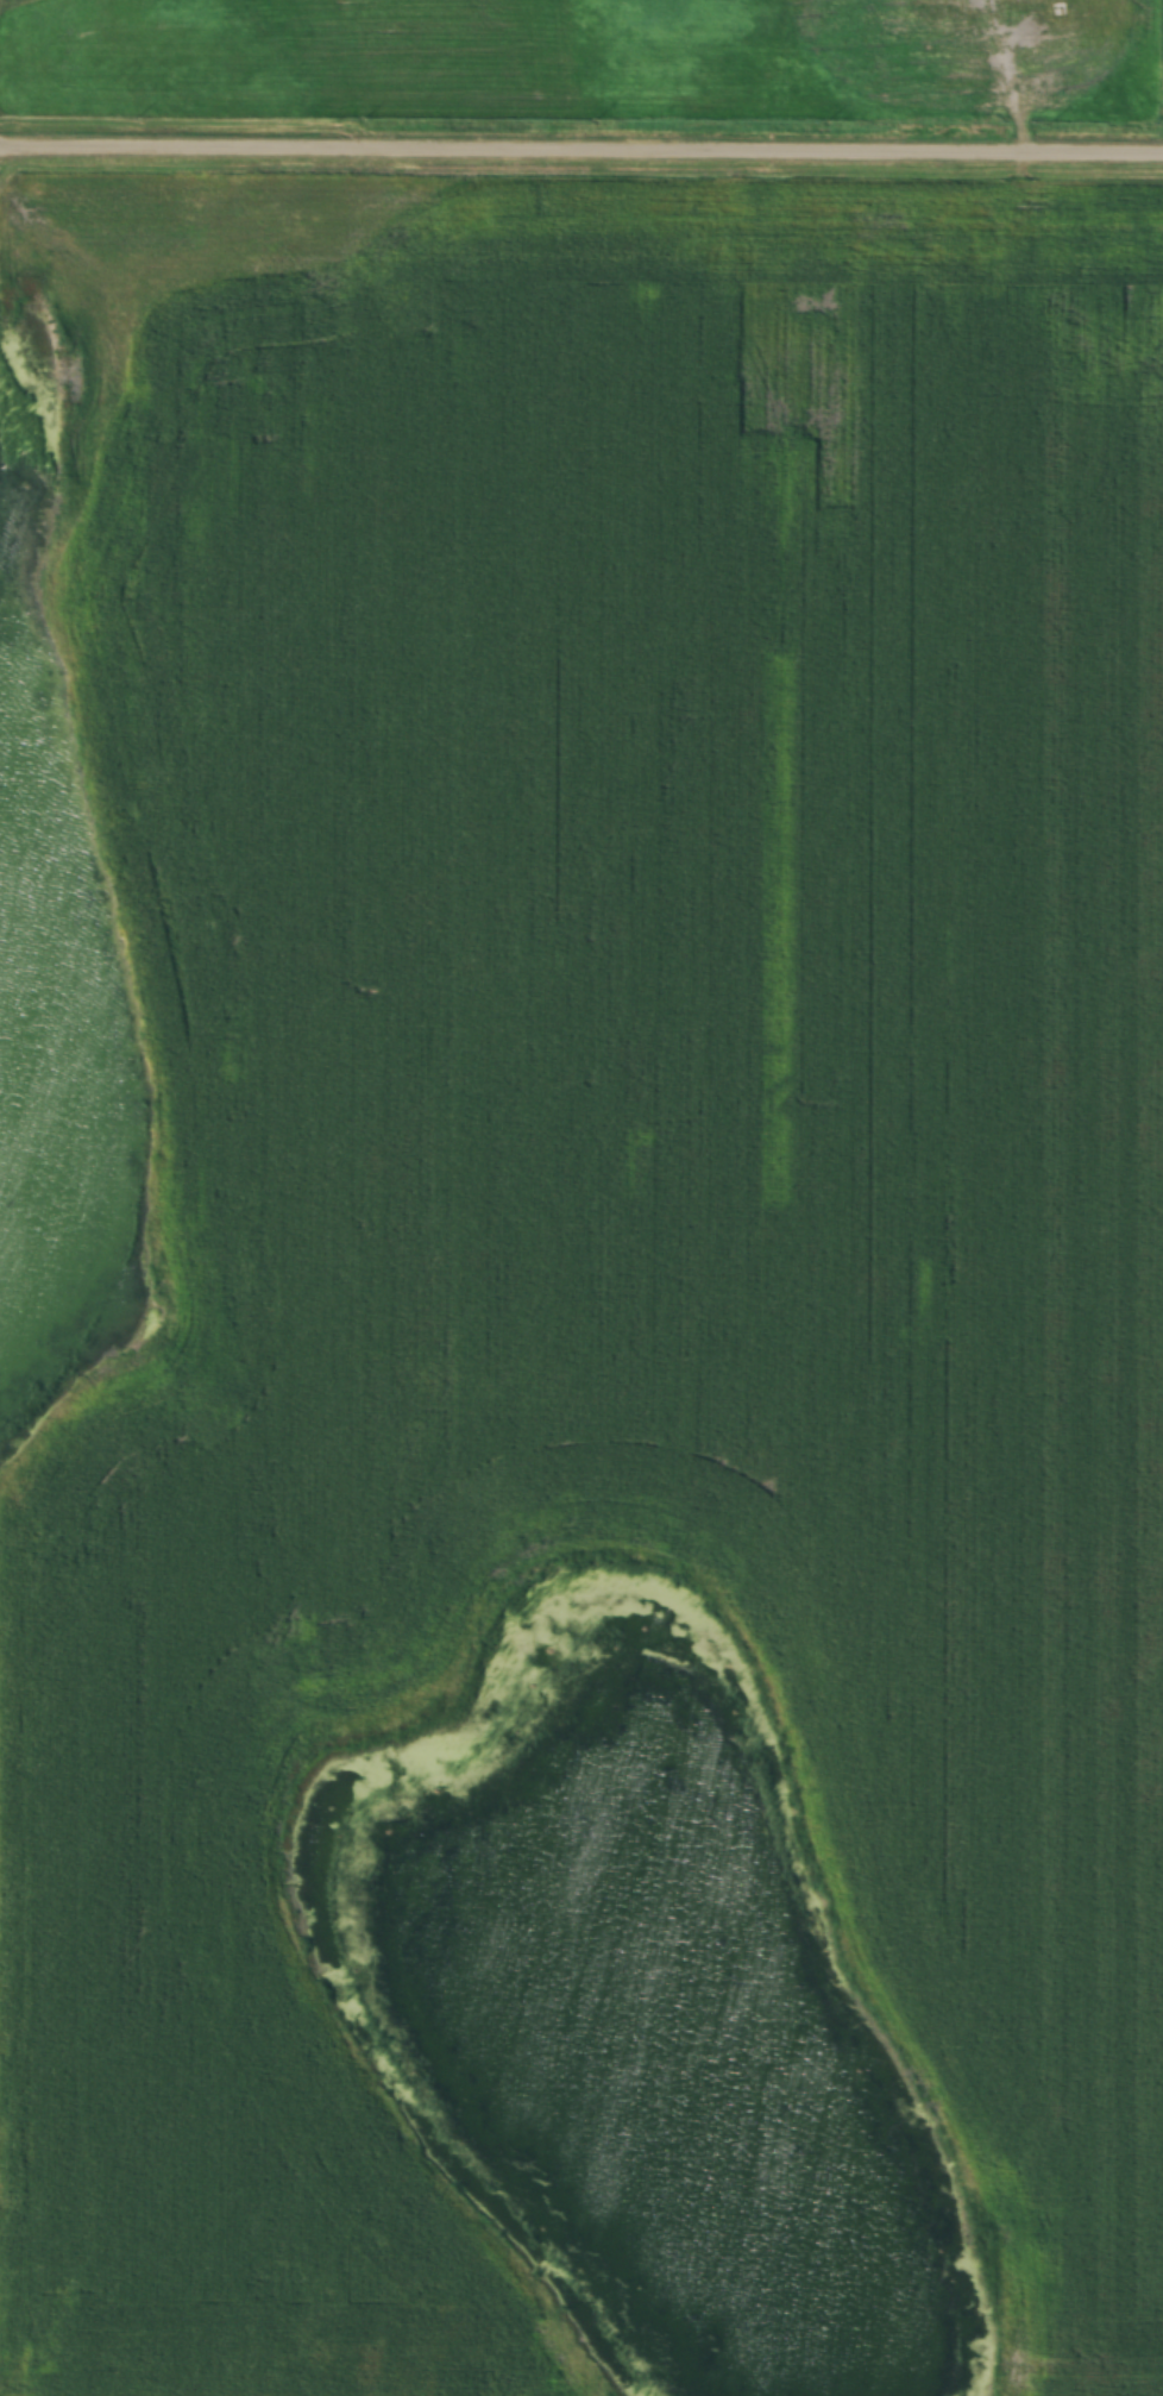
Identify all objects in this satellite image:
road: (581, 150)

